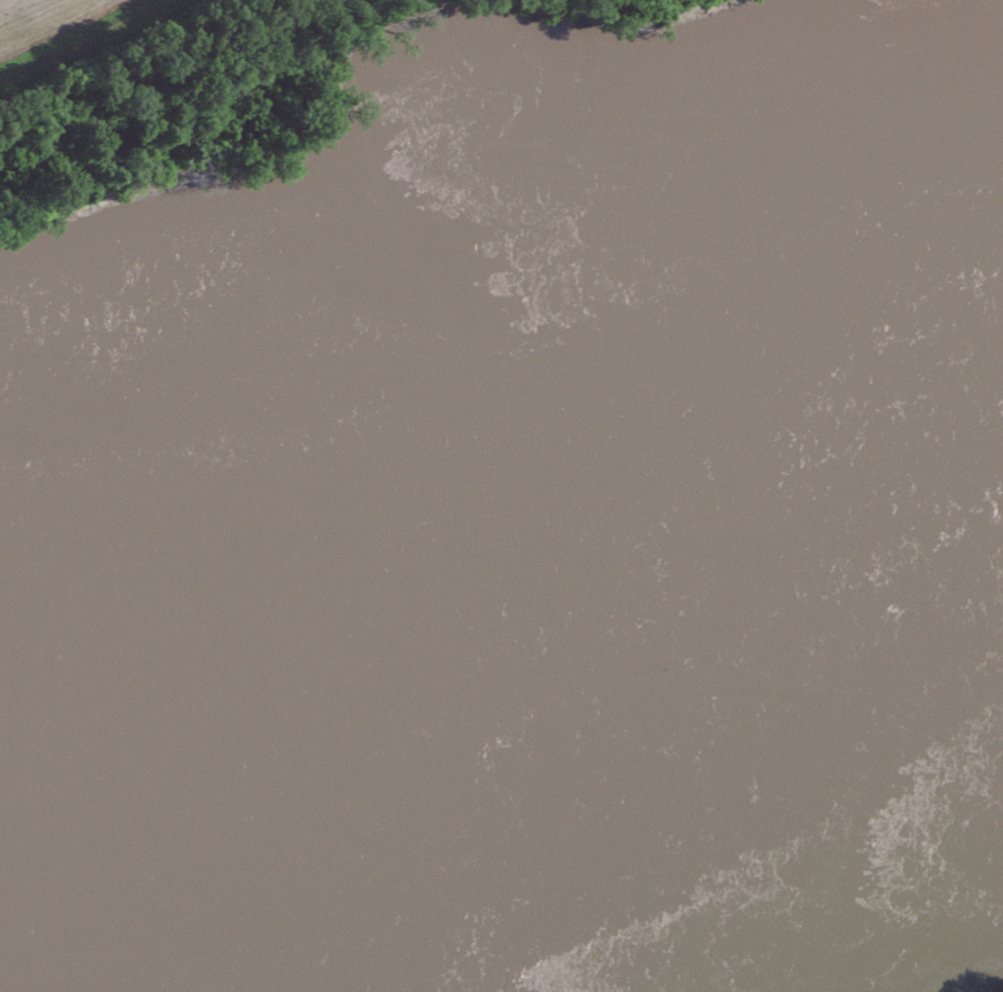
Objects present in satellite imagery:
river: (500, 597)

